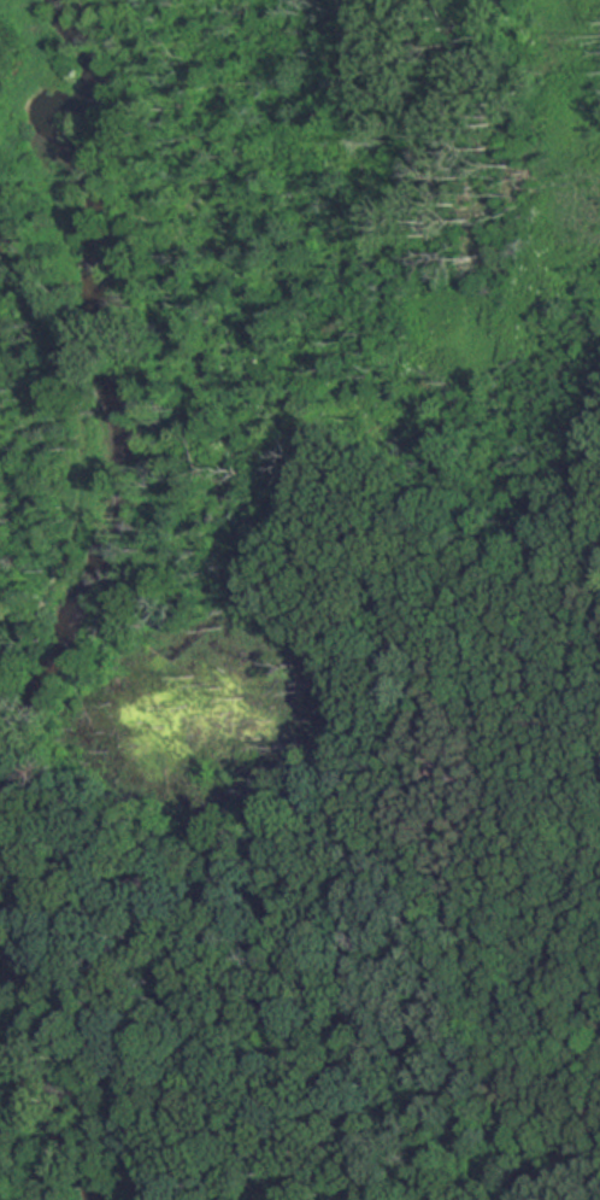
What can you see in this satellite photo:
park: (327, 616)

